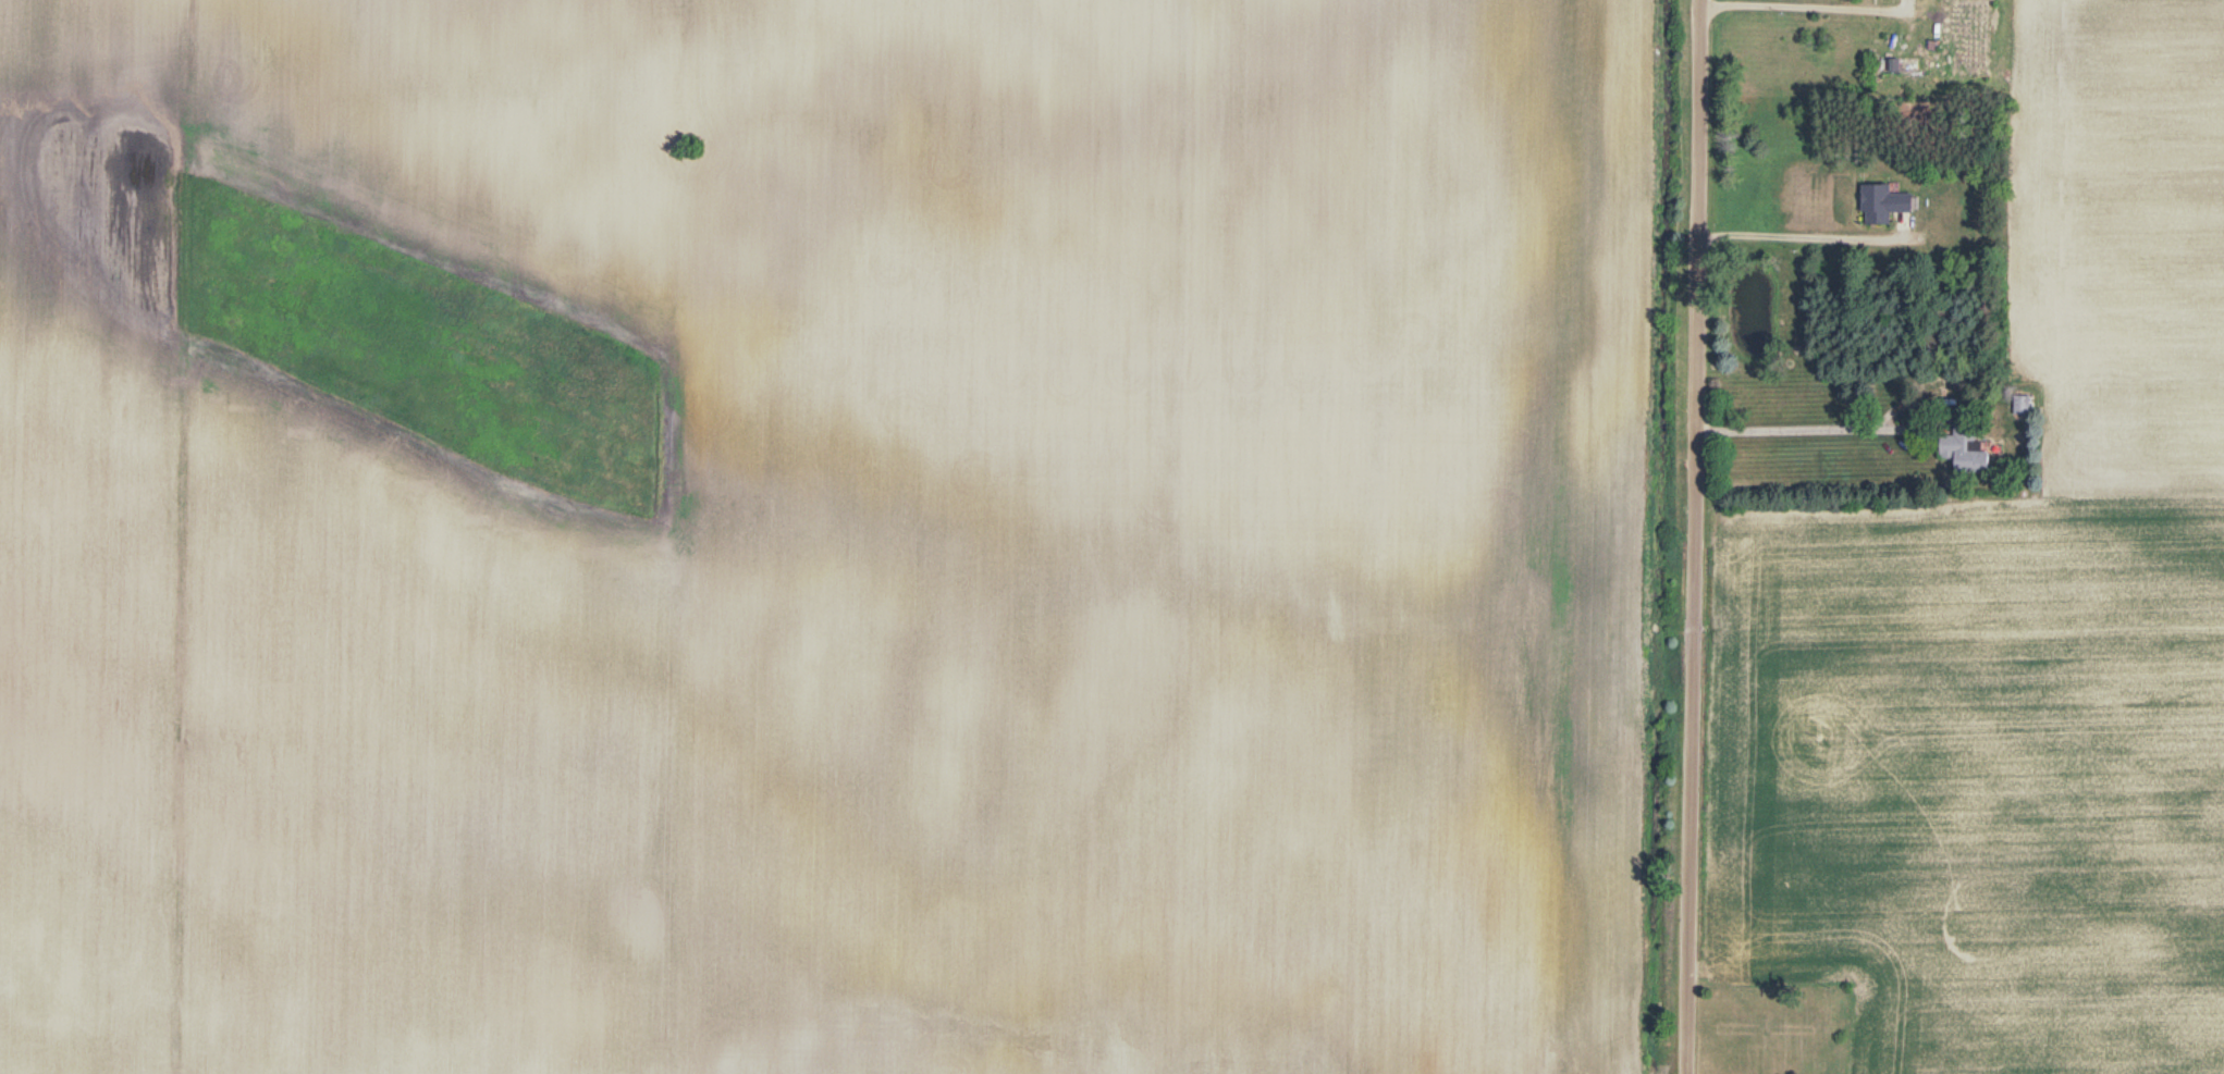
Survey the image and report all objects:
road: (1782, 9)
building: (1883, 206)
road: (1798, 237)
building: (2020, 407)
road: (1795, 433)
building: (1963, 452)
road: (1692, 536)

